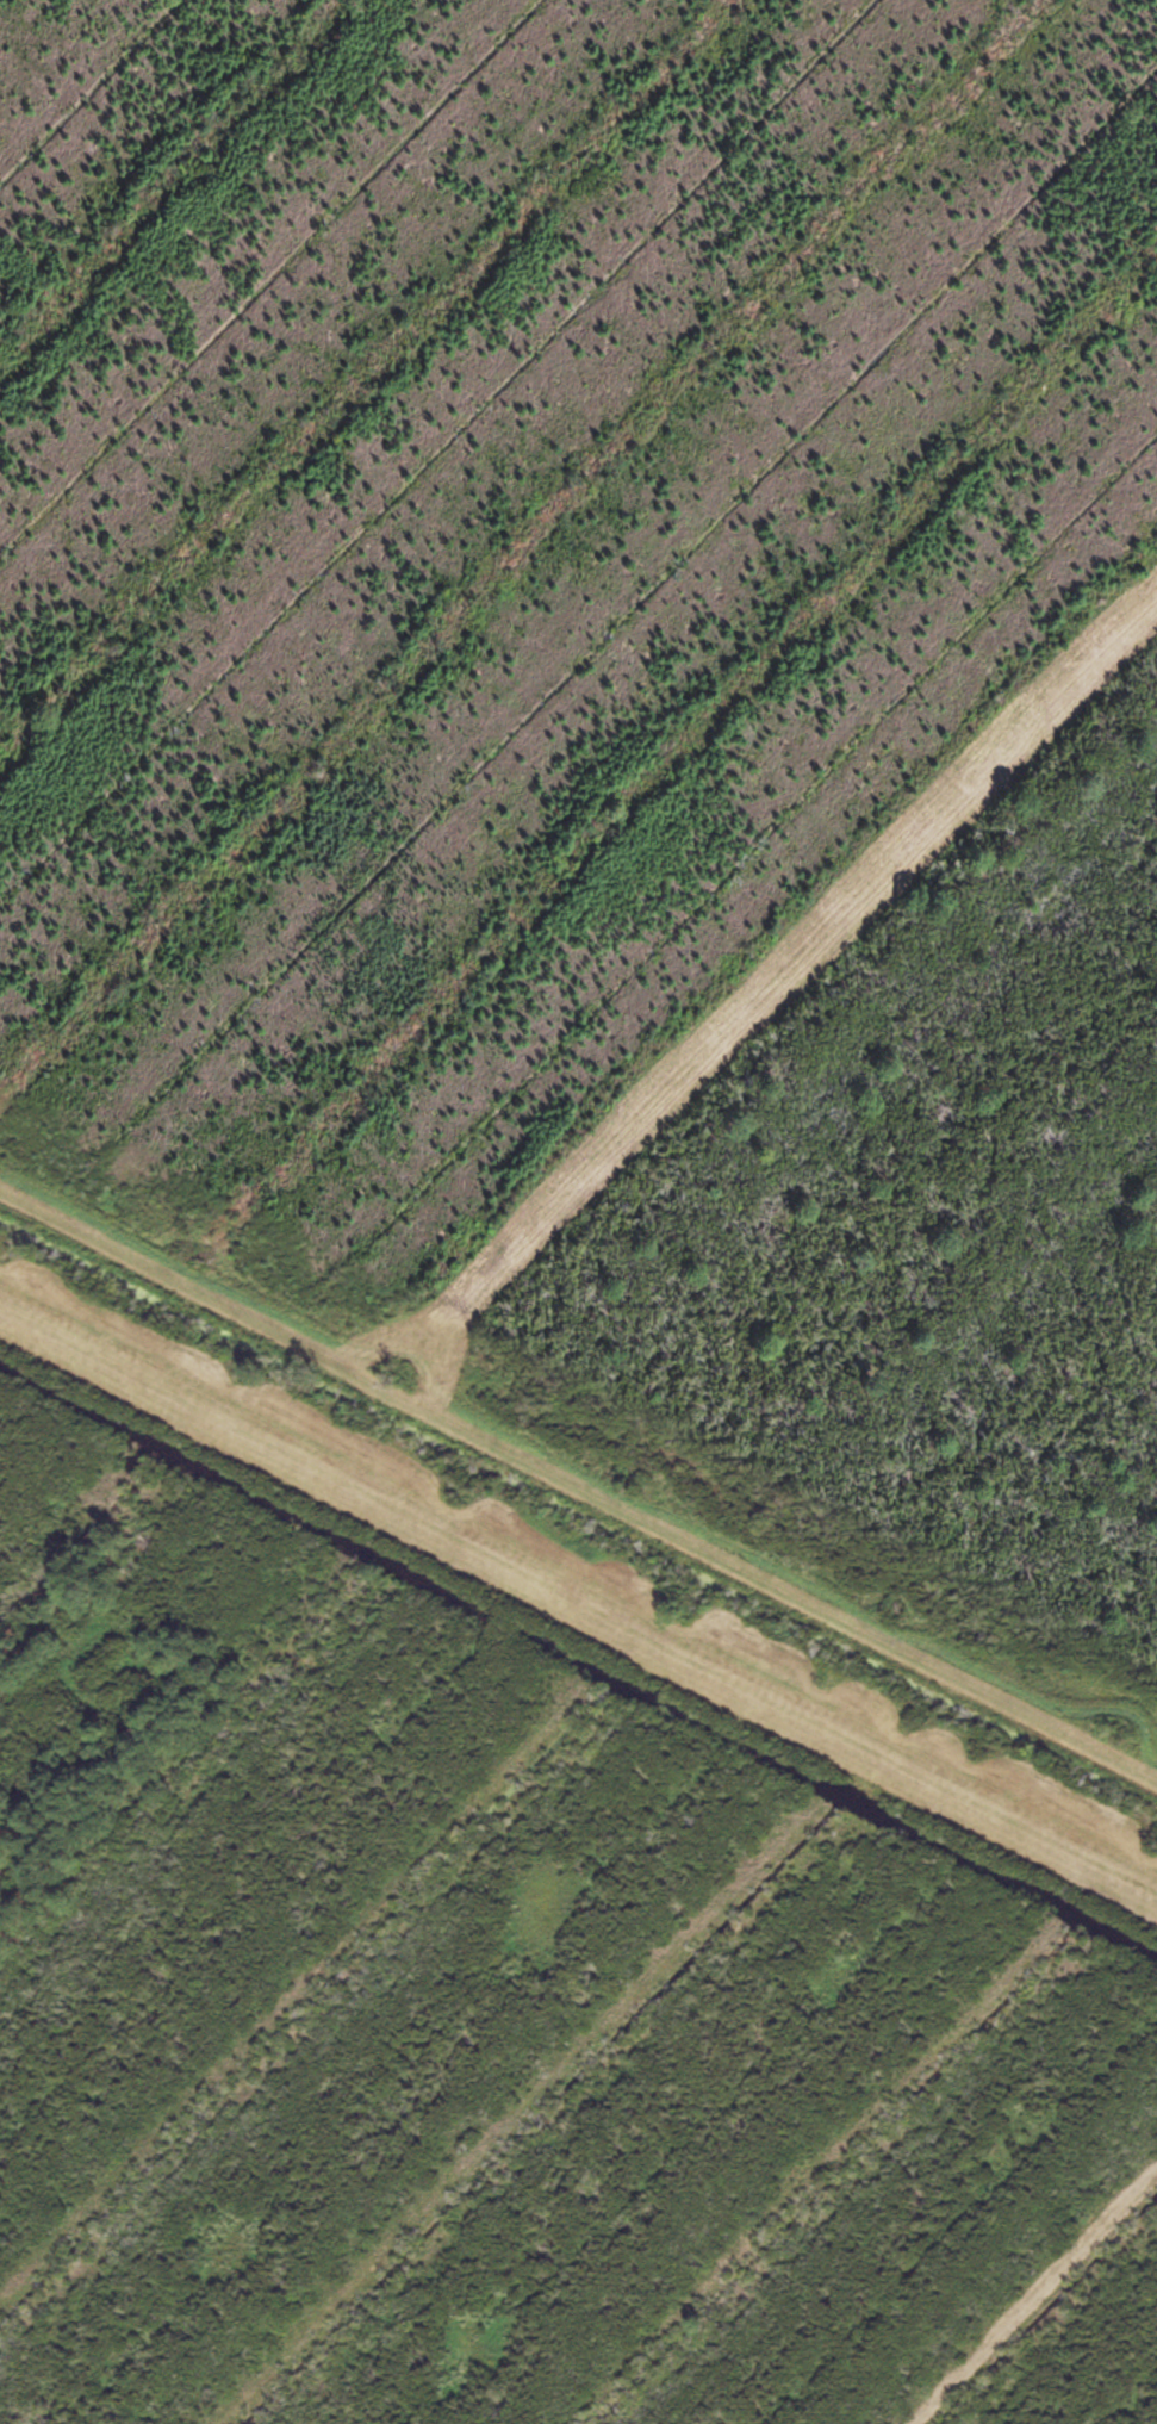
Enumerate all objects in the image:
road: (578, 1485)

